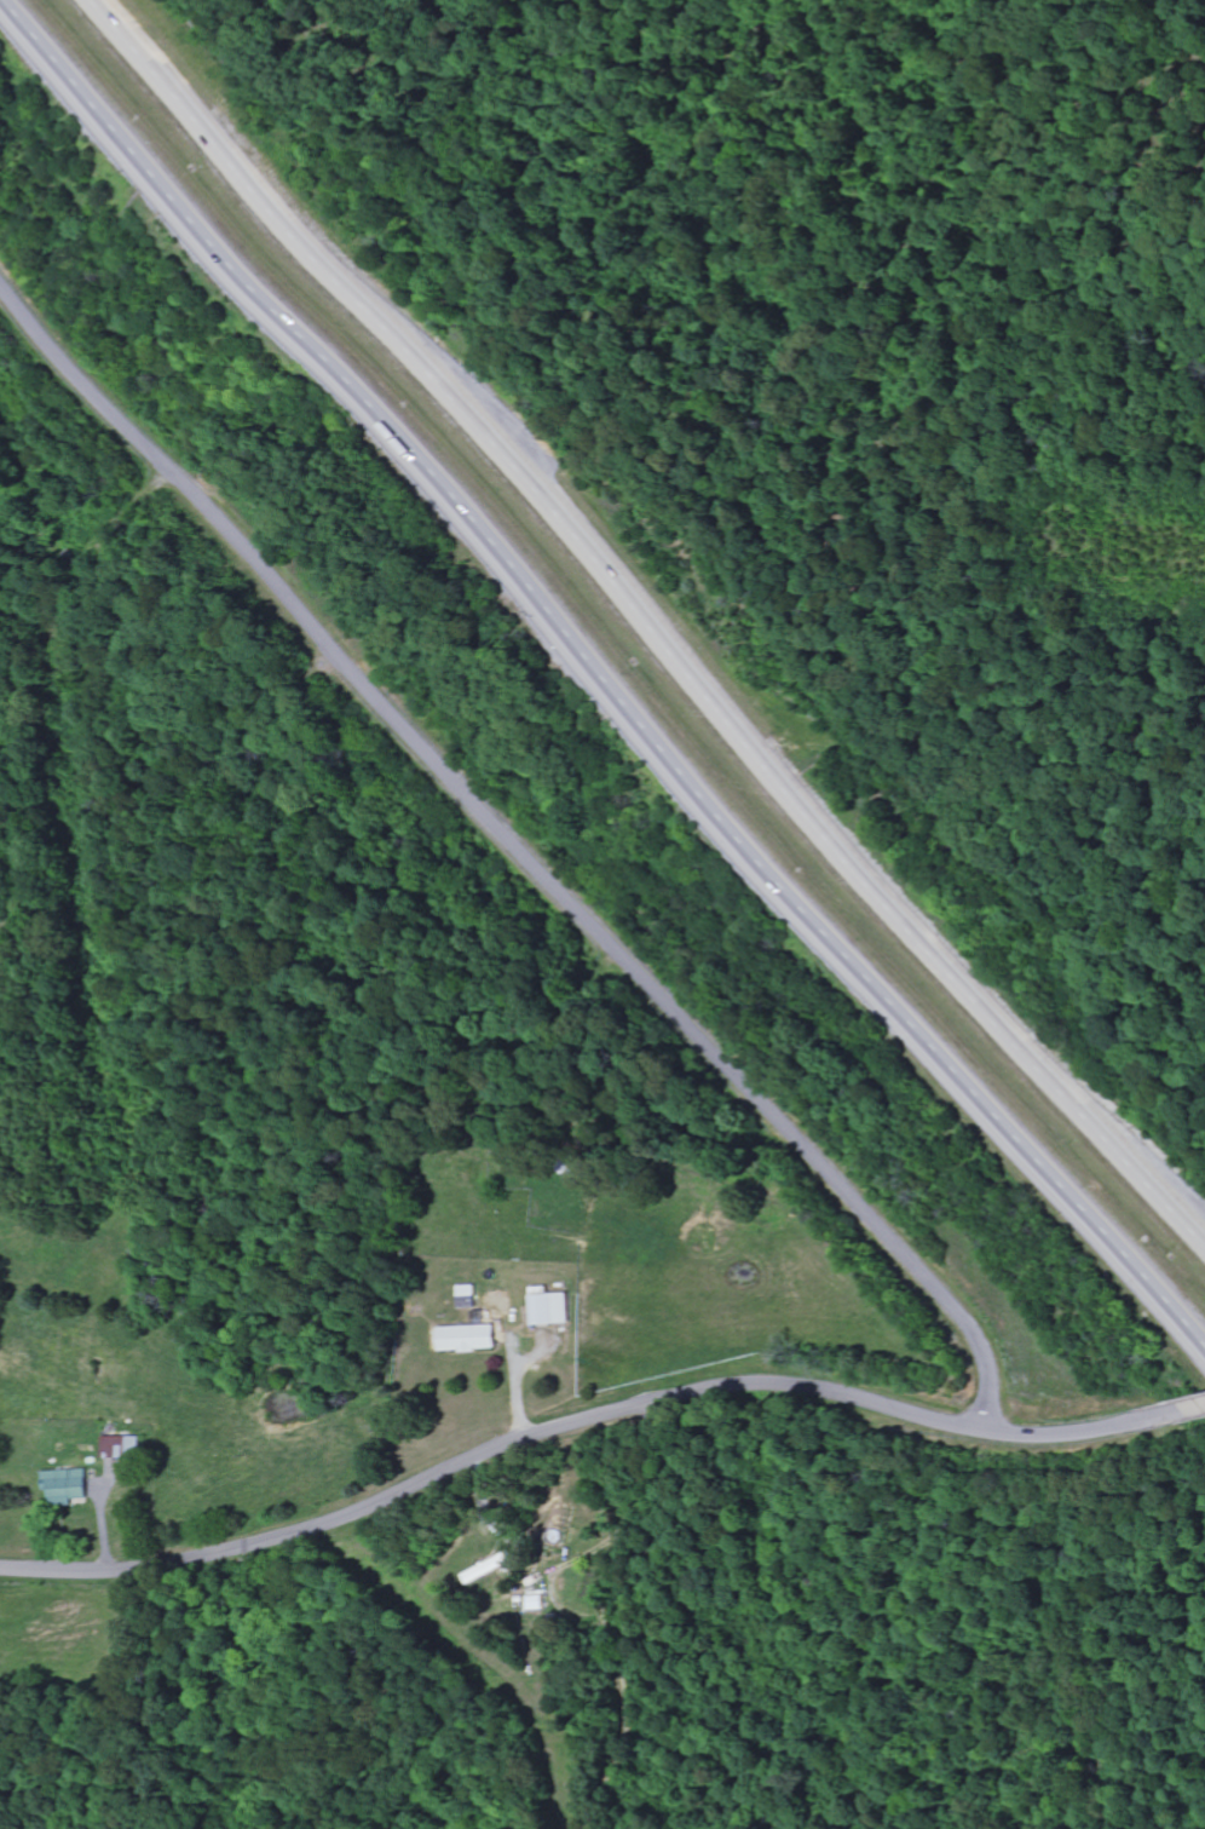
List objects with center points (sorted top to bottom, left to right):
road: (648, 631)
road: (607, 677)
road: (515, 841)
building: (552, 1309)
road: (1182, 1411)
road: (572, 1423)
building: (123, 1448)
building: (68, 1486)
road: (615, 1623)

